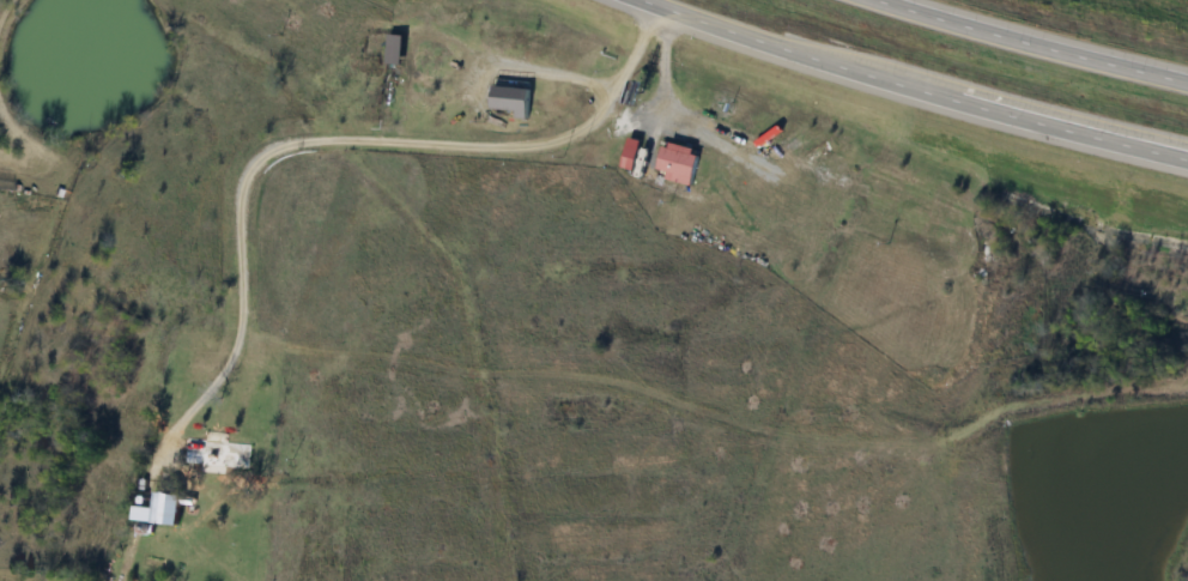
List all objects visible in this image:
road: (1044, 40)
road: (915, 83)
road: (313, 139)
building: (625, 158)
building: (674, 163)
building: (214, 454)
road: (135, 534)

